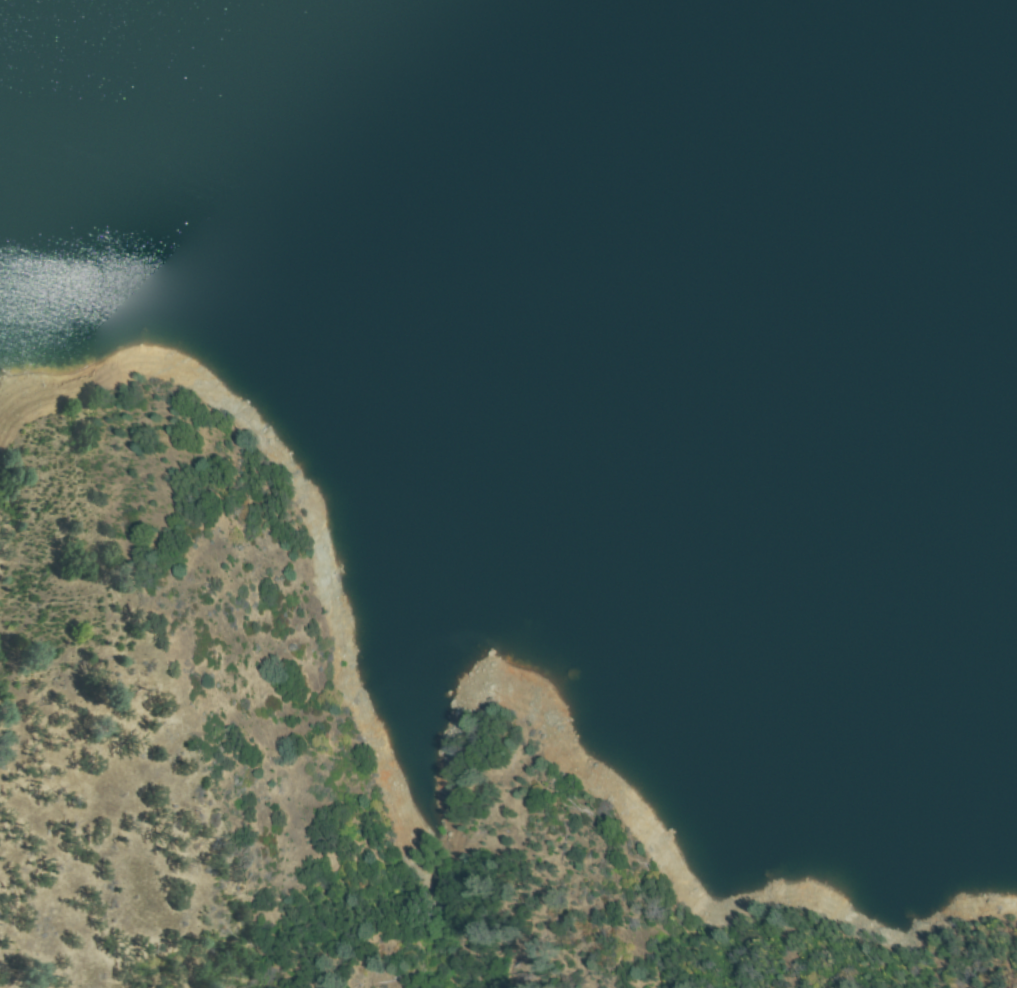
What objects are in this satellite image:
river: (873, 166)

